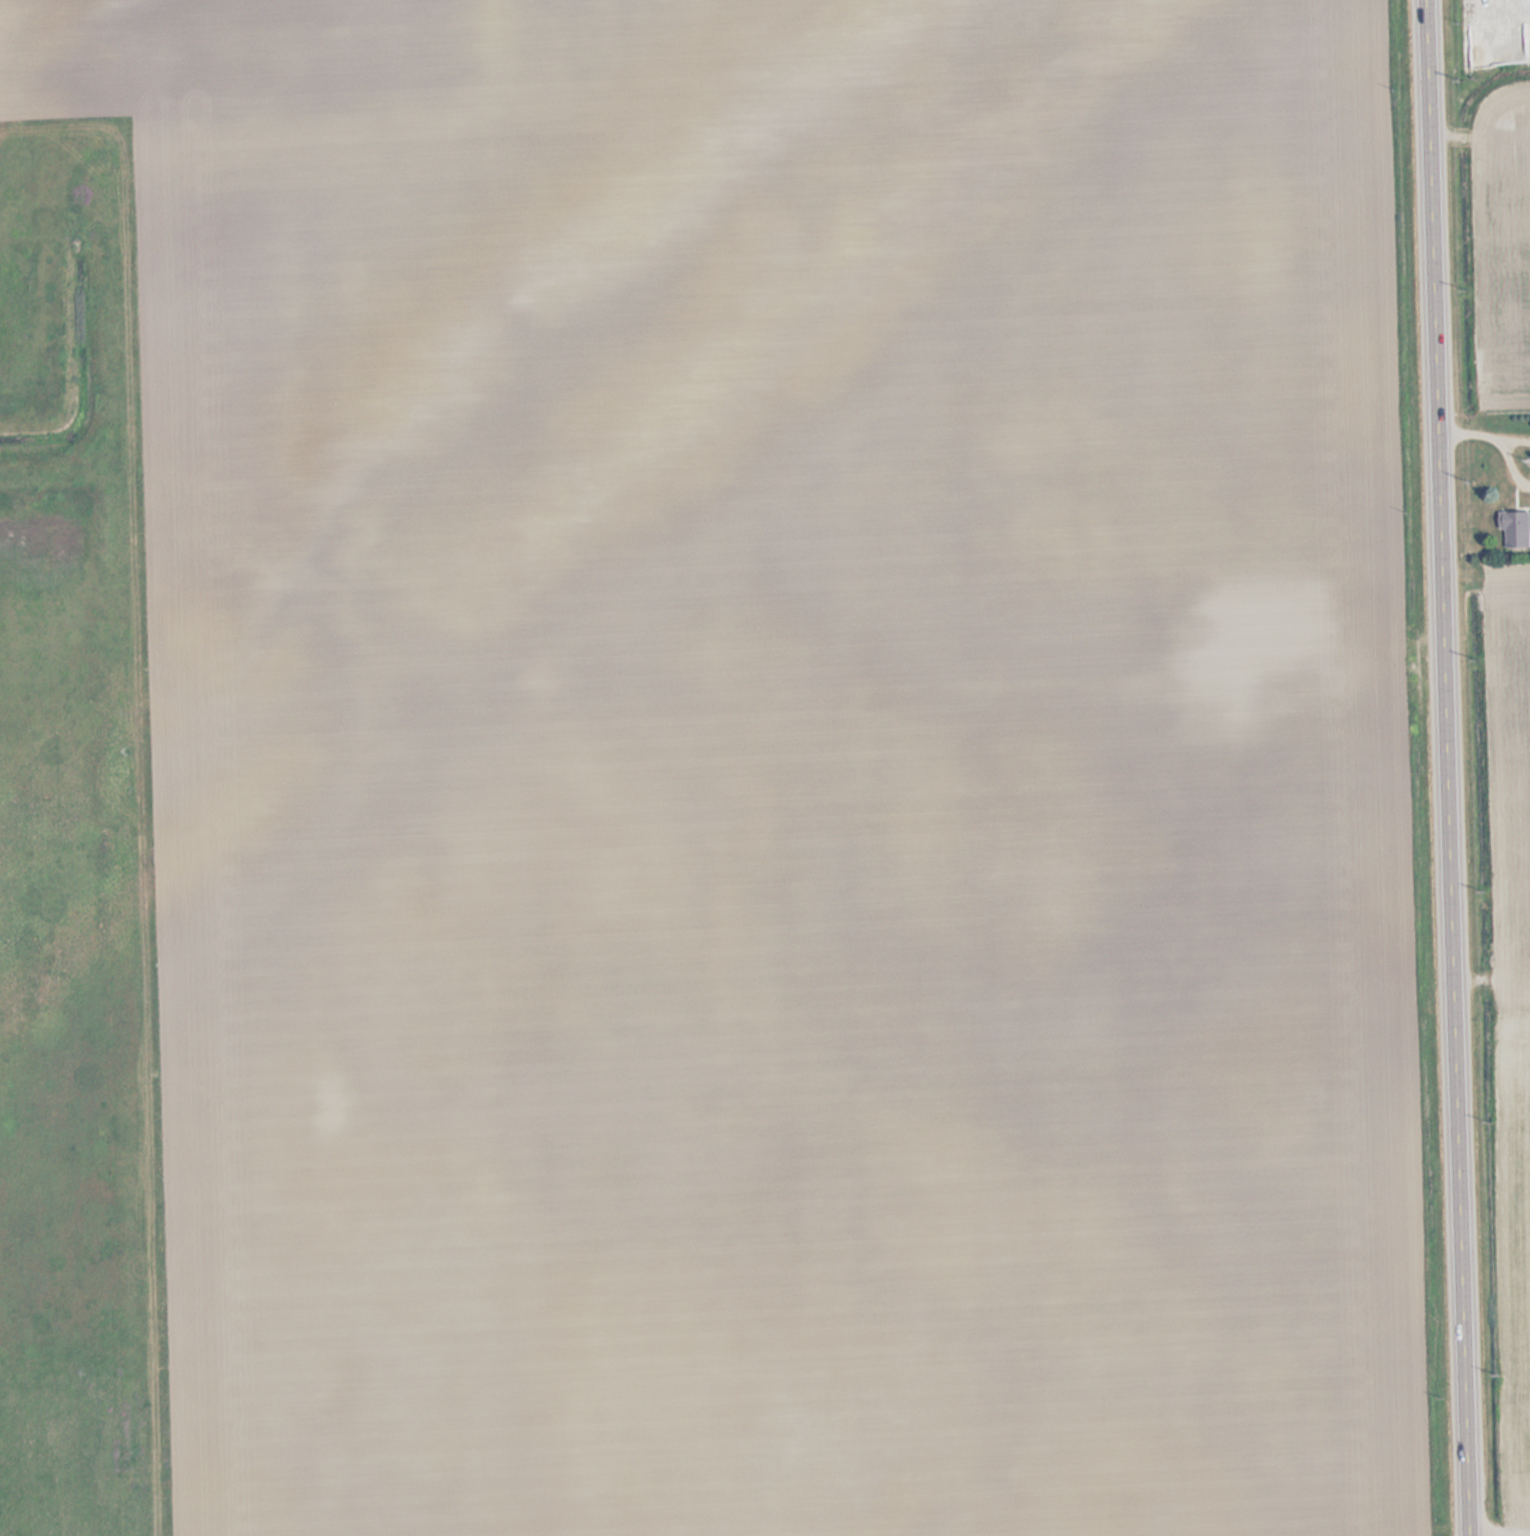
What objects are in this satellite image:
building: (1516, 528)
road: (1451, 767)

